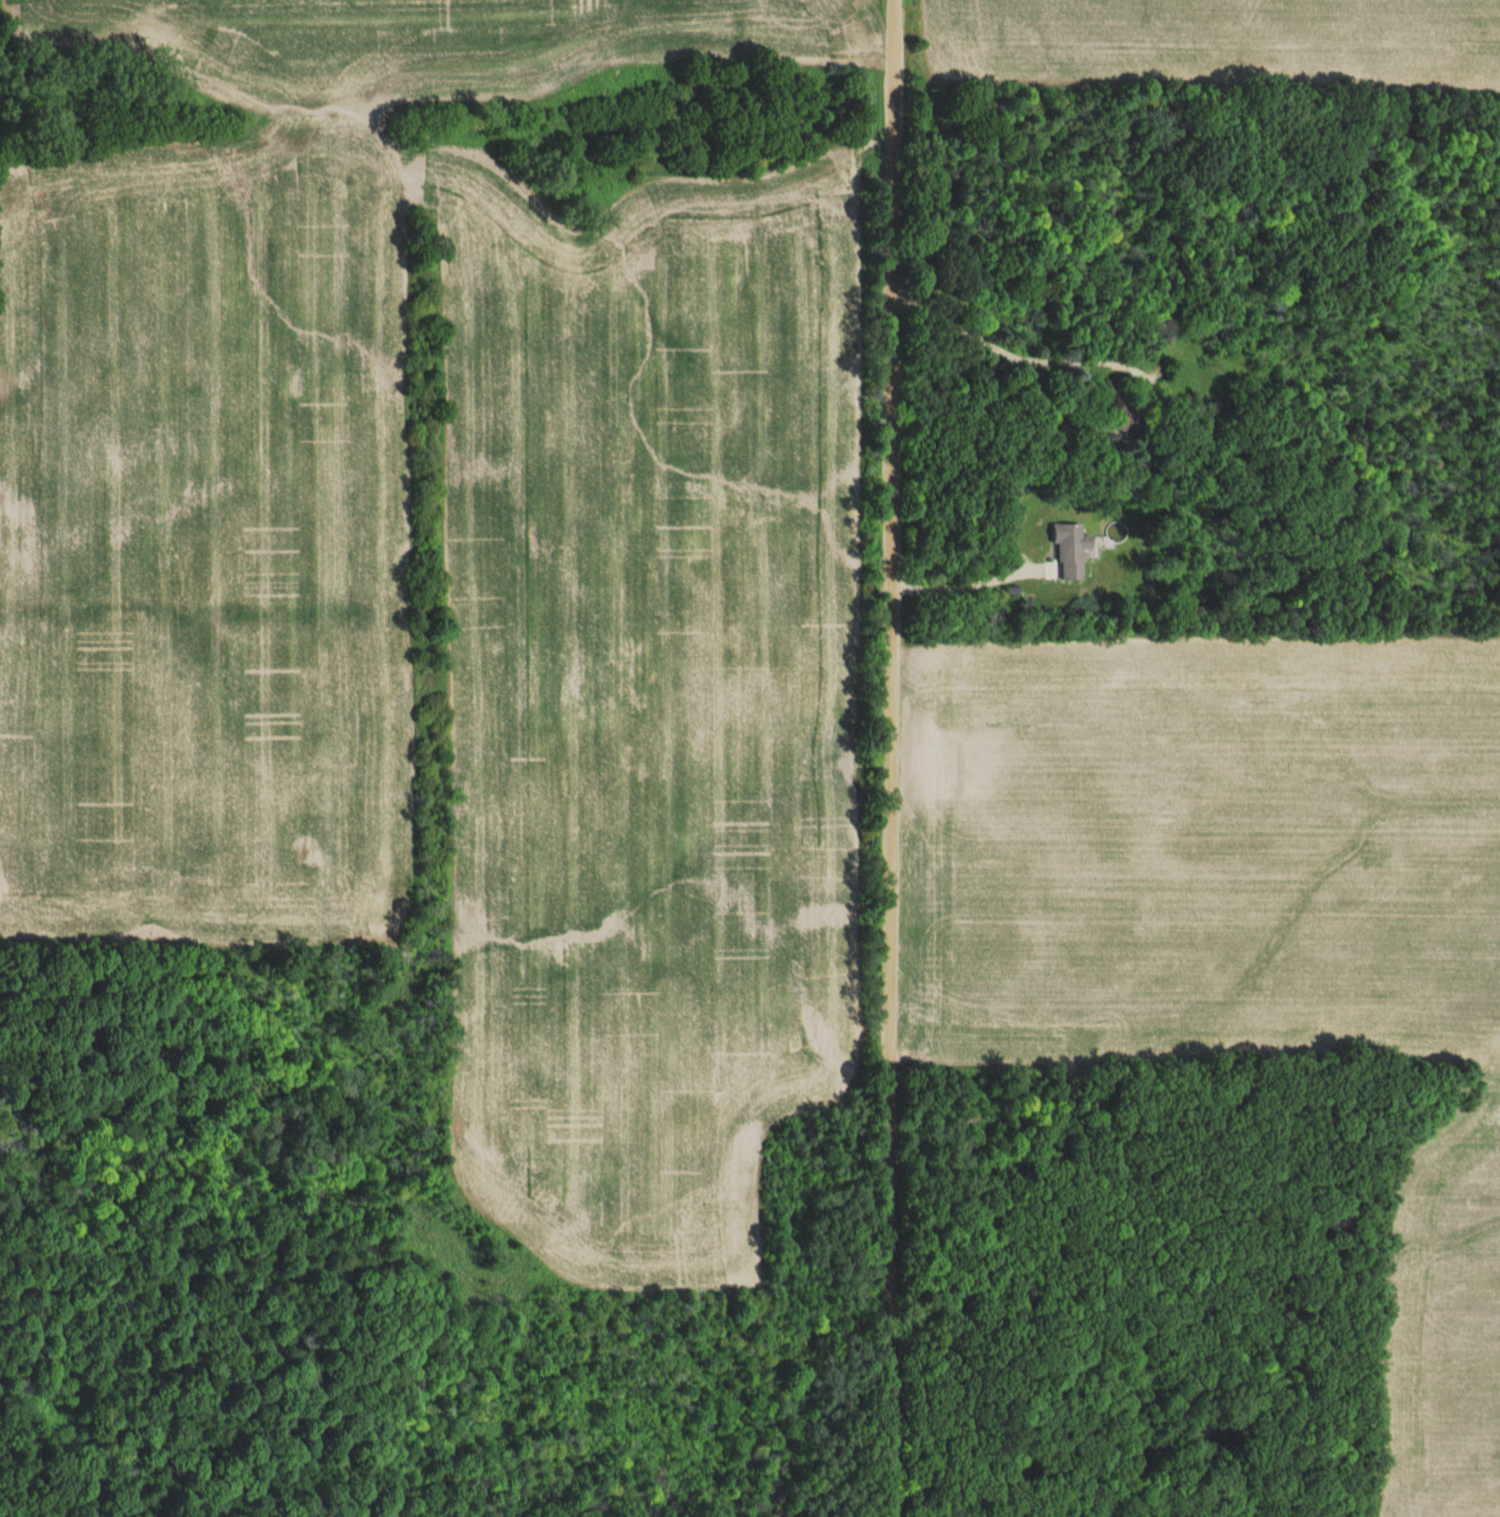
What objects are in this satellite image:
road: (1007, 349)
building: (1120, 419)
building: (1069, 551)
road: (961, 586)
road: (882, 758)

